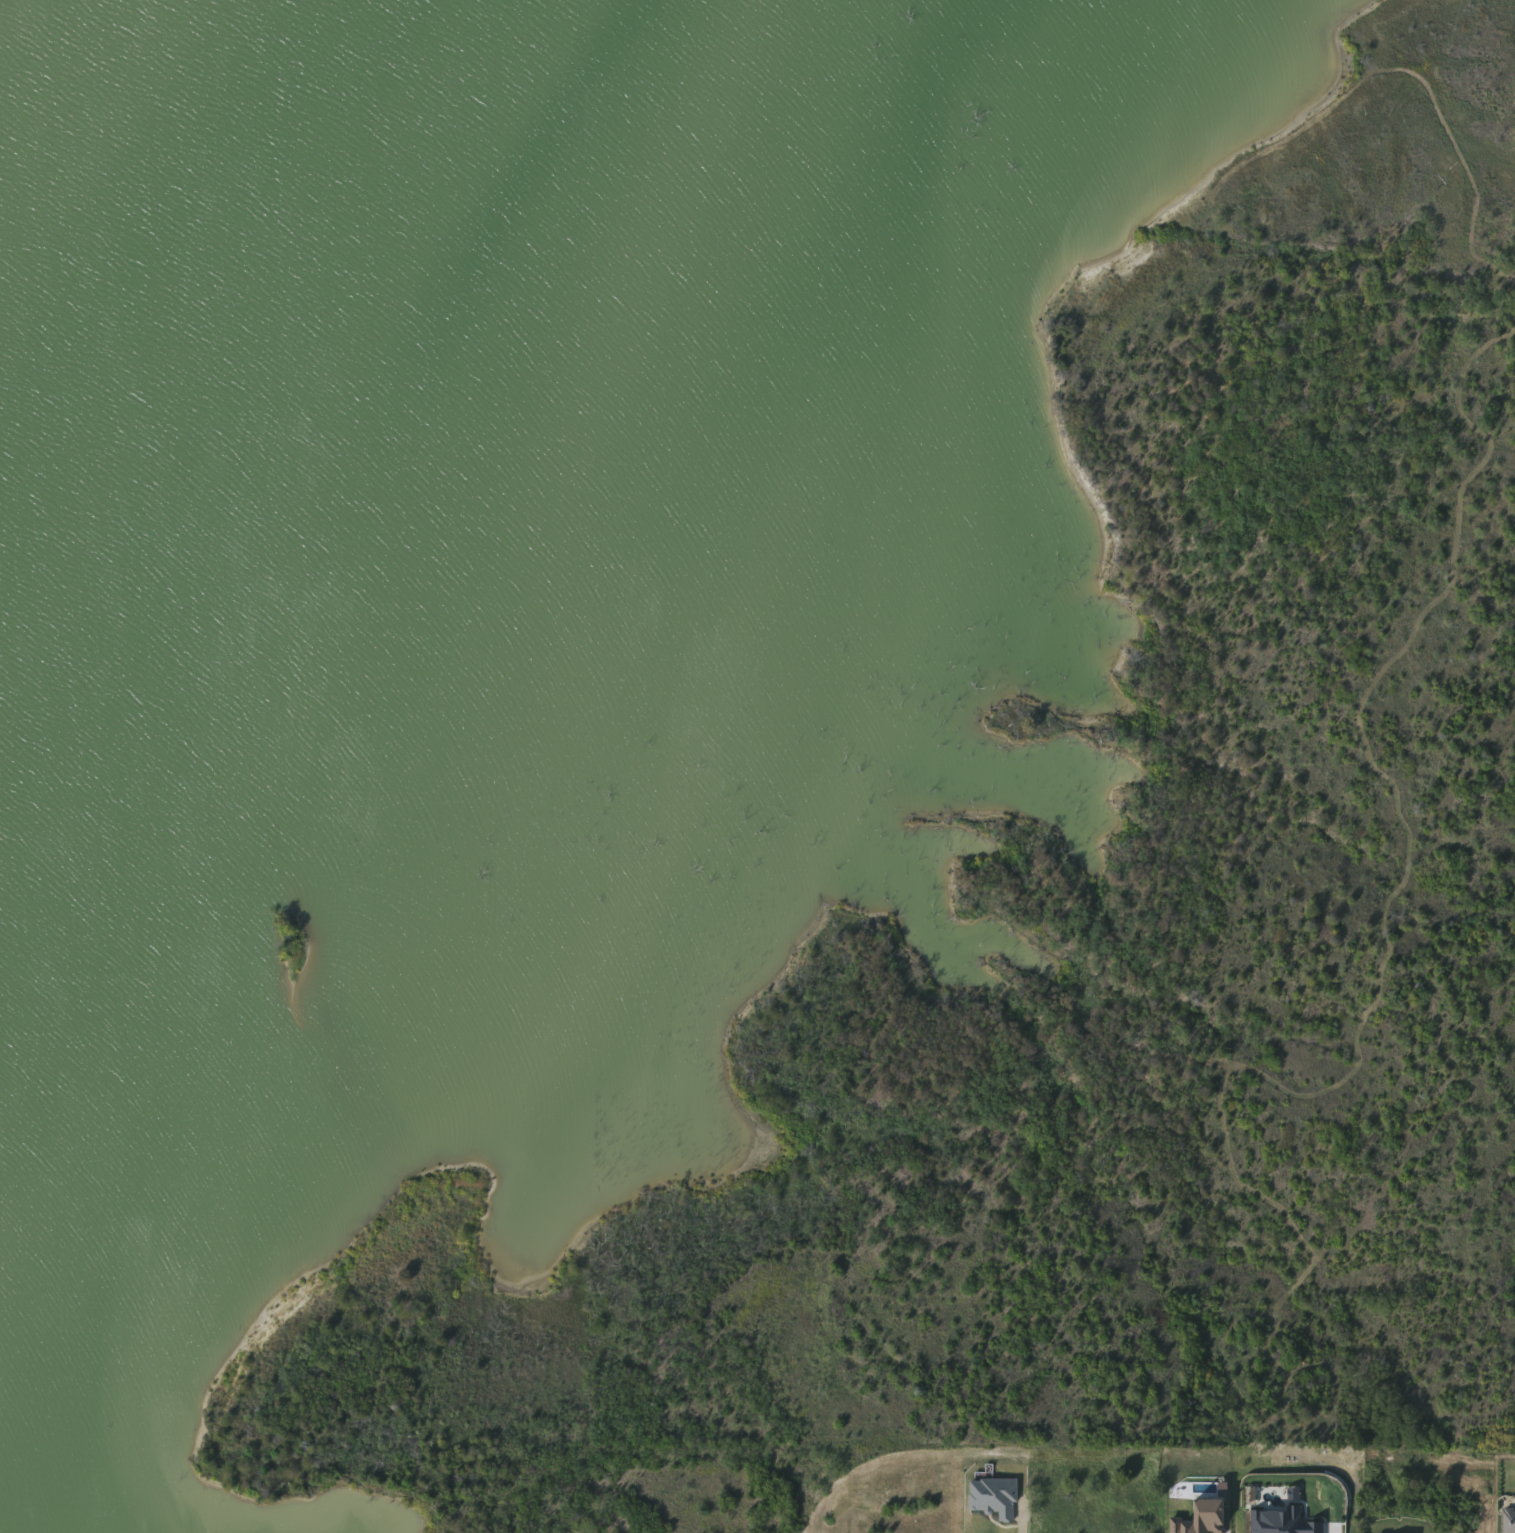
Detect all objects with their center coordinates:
road: (1146, 1452)
road: (1018, 1524)

